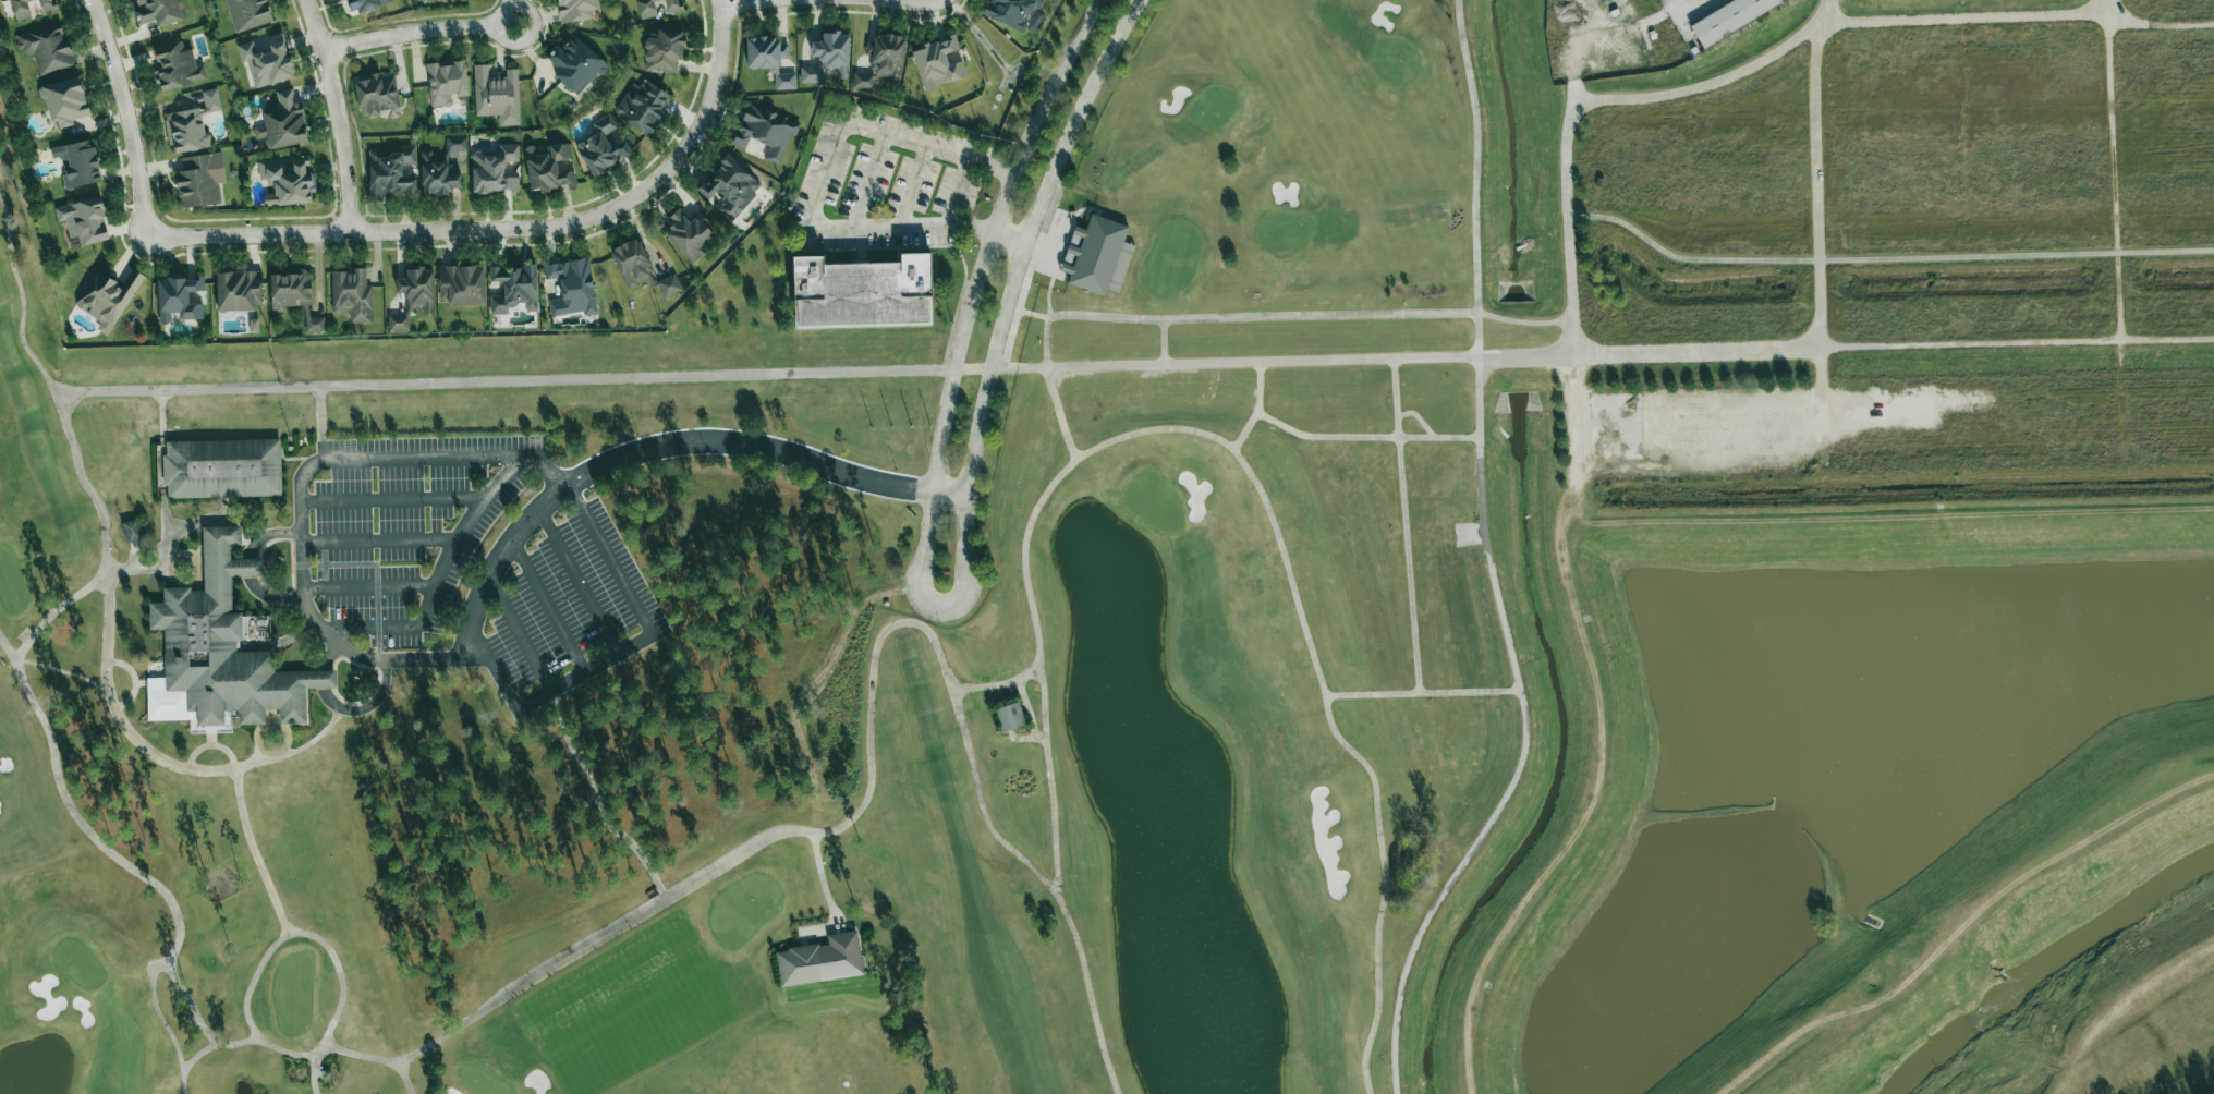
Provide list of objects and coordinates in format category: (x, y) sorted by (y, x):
building: (435, 0)
road: (744, 3)
road: (913, 3)
building: (364, 4)
building: (46, 5)
building: (671, 5)
road: (2105, 7)
building: (646, 8)
building: (20, 9)
building: (576, 10)
building: (159, 11)
road: (1826, 11)
building: (247, 13)
building: (1014, 13)
road: (1963, 17)
building: (1727, 19)
road: (2158, 25)
road: (423, 32)
road: (1602, 33)
road: (527, 35)
building: (46, 50)
building: (664, 50)
building: (769, 60)
building: (267, 61)
building: (881, 61)
building: (938, 63)
building: (574, 64)
building: (177, 65)
building: (446, 83)
building: (376, 94)
building: (497, 96)
building: (210, 100)
building: (65, 101)
building: (642, 106)
road: (337, 113)
road: (125, 117)
building: (284, 121)
building: (186, 131)
building: (765, 132)
building: (604, 147)
building: (77, 162)
building: (548, 168)
building: (441, 169)
building: (494, 170)
building: (391, 172)
building: (199, 180)
road: (867, 180)
building: (288, 181)
road: (1816, 184)
building: (730, 187)
road: (914, 187)
road: (817, 190)
road: (960, 193)
road: (2115, 207)
building: (83, 221)
road: (1567, 221)
road: (507, 228)
building: (688, 234)
building: (1097, 256)
road: (1884, 258)
building: (631, 263)
building: (461, 284)
building: (669, 285)
building: (513, 288)
building: (571, 288)
building: (238, 291)
building: (862, 292)
building: (352, 295)
building: (414, 296)
building: (294, 297)
building: (179, 299)
building: (107, 300)
road: (1289, 316)
building: (253, 326)
road: (1045, 338)
road: (1163, 341)
road: (2017, 341)
road: (1281, 361)
road: (1821, 398)
road: (763, 449)
building: (222, 469)
road: (394, 499)
parking lot: (406, 527)
building: (131, 531)
road: (381, 539)
road: (440, 574)
fountain: (1095, 579)
road: (579, 581)
road: (368, 586)
road: (302, 592)
road: (549, 605)
road: (941, 606)
parking lot: (567, 609)
road: (520, 632)
building: (223, 648)
road: (624, 648)
park: (792, 652)
building: (1009, 717)
park: (1133, 794)
park: (146, 814)
building: (820, 960)
river: (2048, 967)

